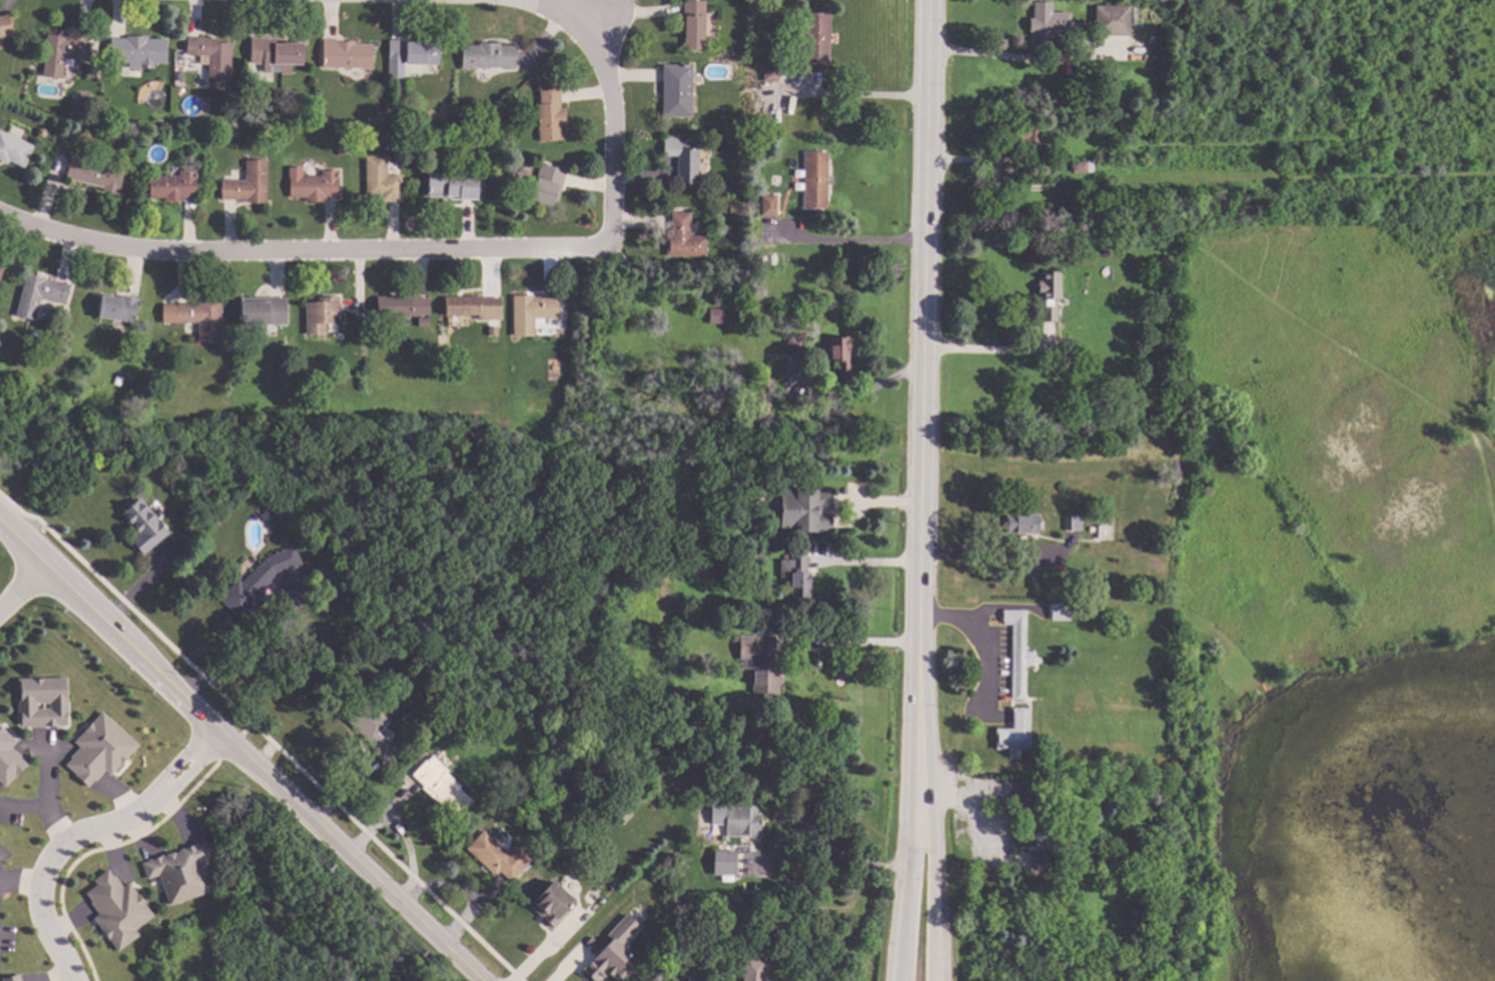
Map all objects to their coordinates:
road: (552, 7)
road: (593, 16)
building: (1109, 21)
building: (1047, 22)
building: (694, 24)
building: (6, 26)
building: (816, 37)
building: (140, 51)
building: (64, 53)
building: (277, 54)
building: (412, 54)
building: (349, 55)
building: (489, 56)
road: (1001, 56)
building: (215, 57)
building: (93, 71)
building: (772, 71)
building: (181, 76)
building: (678, 90)
road: (857, 97)
building: (552, 115)
building: (42, 132)
road: (612, 138)
building: (1028, 144)
building: (15, 149)
building: (341, 149)
building: (201, 158)
building: (684, 160)
building: (1079, 167)
building: (97, 175)
building: (383, 179)
building: (816, 179)
building: (250, 184)
building: (315, 184)
building: (549, 184)
building: (175, 186)
building: (454, 186)
building: (770, 205)
building: (735, 208)
building: (685, 238)
road: (849, 241)
road: (300, 252)
building: (1, 270)
building: (41, 294)
building: (1047, 294)
building: (403, 306)
building: (475, 307)
building: (120, 308)
building: (265, 310)
building: (533, 312)
building: (322, 315)
building: (717, 316)
building: (65, 318)
building: (203, 318)
building: (1062, 340)
building: (796, 346)
road: (983, 349)
building: (760, 352)
road: (923, 353)
building: (842, 354)
building: (132, 379)
building: (120, 380)
crop: (1493, 385)
road: (889, 504)
building: (191, 511)
building: (801, 512)
building: (270, 516)
building: (1071, 523)
building: (146, 526)
building: (1020, 526)
building: (720, 530)
building: (1088, 530)
building: (1098, 533)
road: (994, 548)
road: (864, 563)
building: (797, 575)
road: (995, 575)
building: (259, 581)
road: (22, 589)
building: (1058, 612)
building: (650, 639)
road: (851, 645)
building: (1016, 652)
road: (253, 656)
building: (763, 662)
road: (982, 690)
building: (43, 702)
building: (374, 729)
building: (1012, 732)
building: (429, 737)
building: (98, 750)
road: (240, 752)
building: (8, 760)
building: (996, 767)
building: (497, 781)
building: (443, 786)
building: (610, 787)
road: (44, 793)
building: (1023, 797)
building: (597, 798)
building: (487, 812)
building: (743, 820)
road: (85, 835)
building: (1047, 838)
road: (931, 843)
road: (909, 844)
road: (827, 850)
building: (501, 856)
building: (1039, 859)
building: (730, 861)
building: (181, 873)
road: (20, 885)
building: (553, 904)
building: (118, 909)
building: (669, 950)
building: (615, 952)
building: (756, 970)
building: (698, 975)
building: (13, 978)
building: (677, 978)

